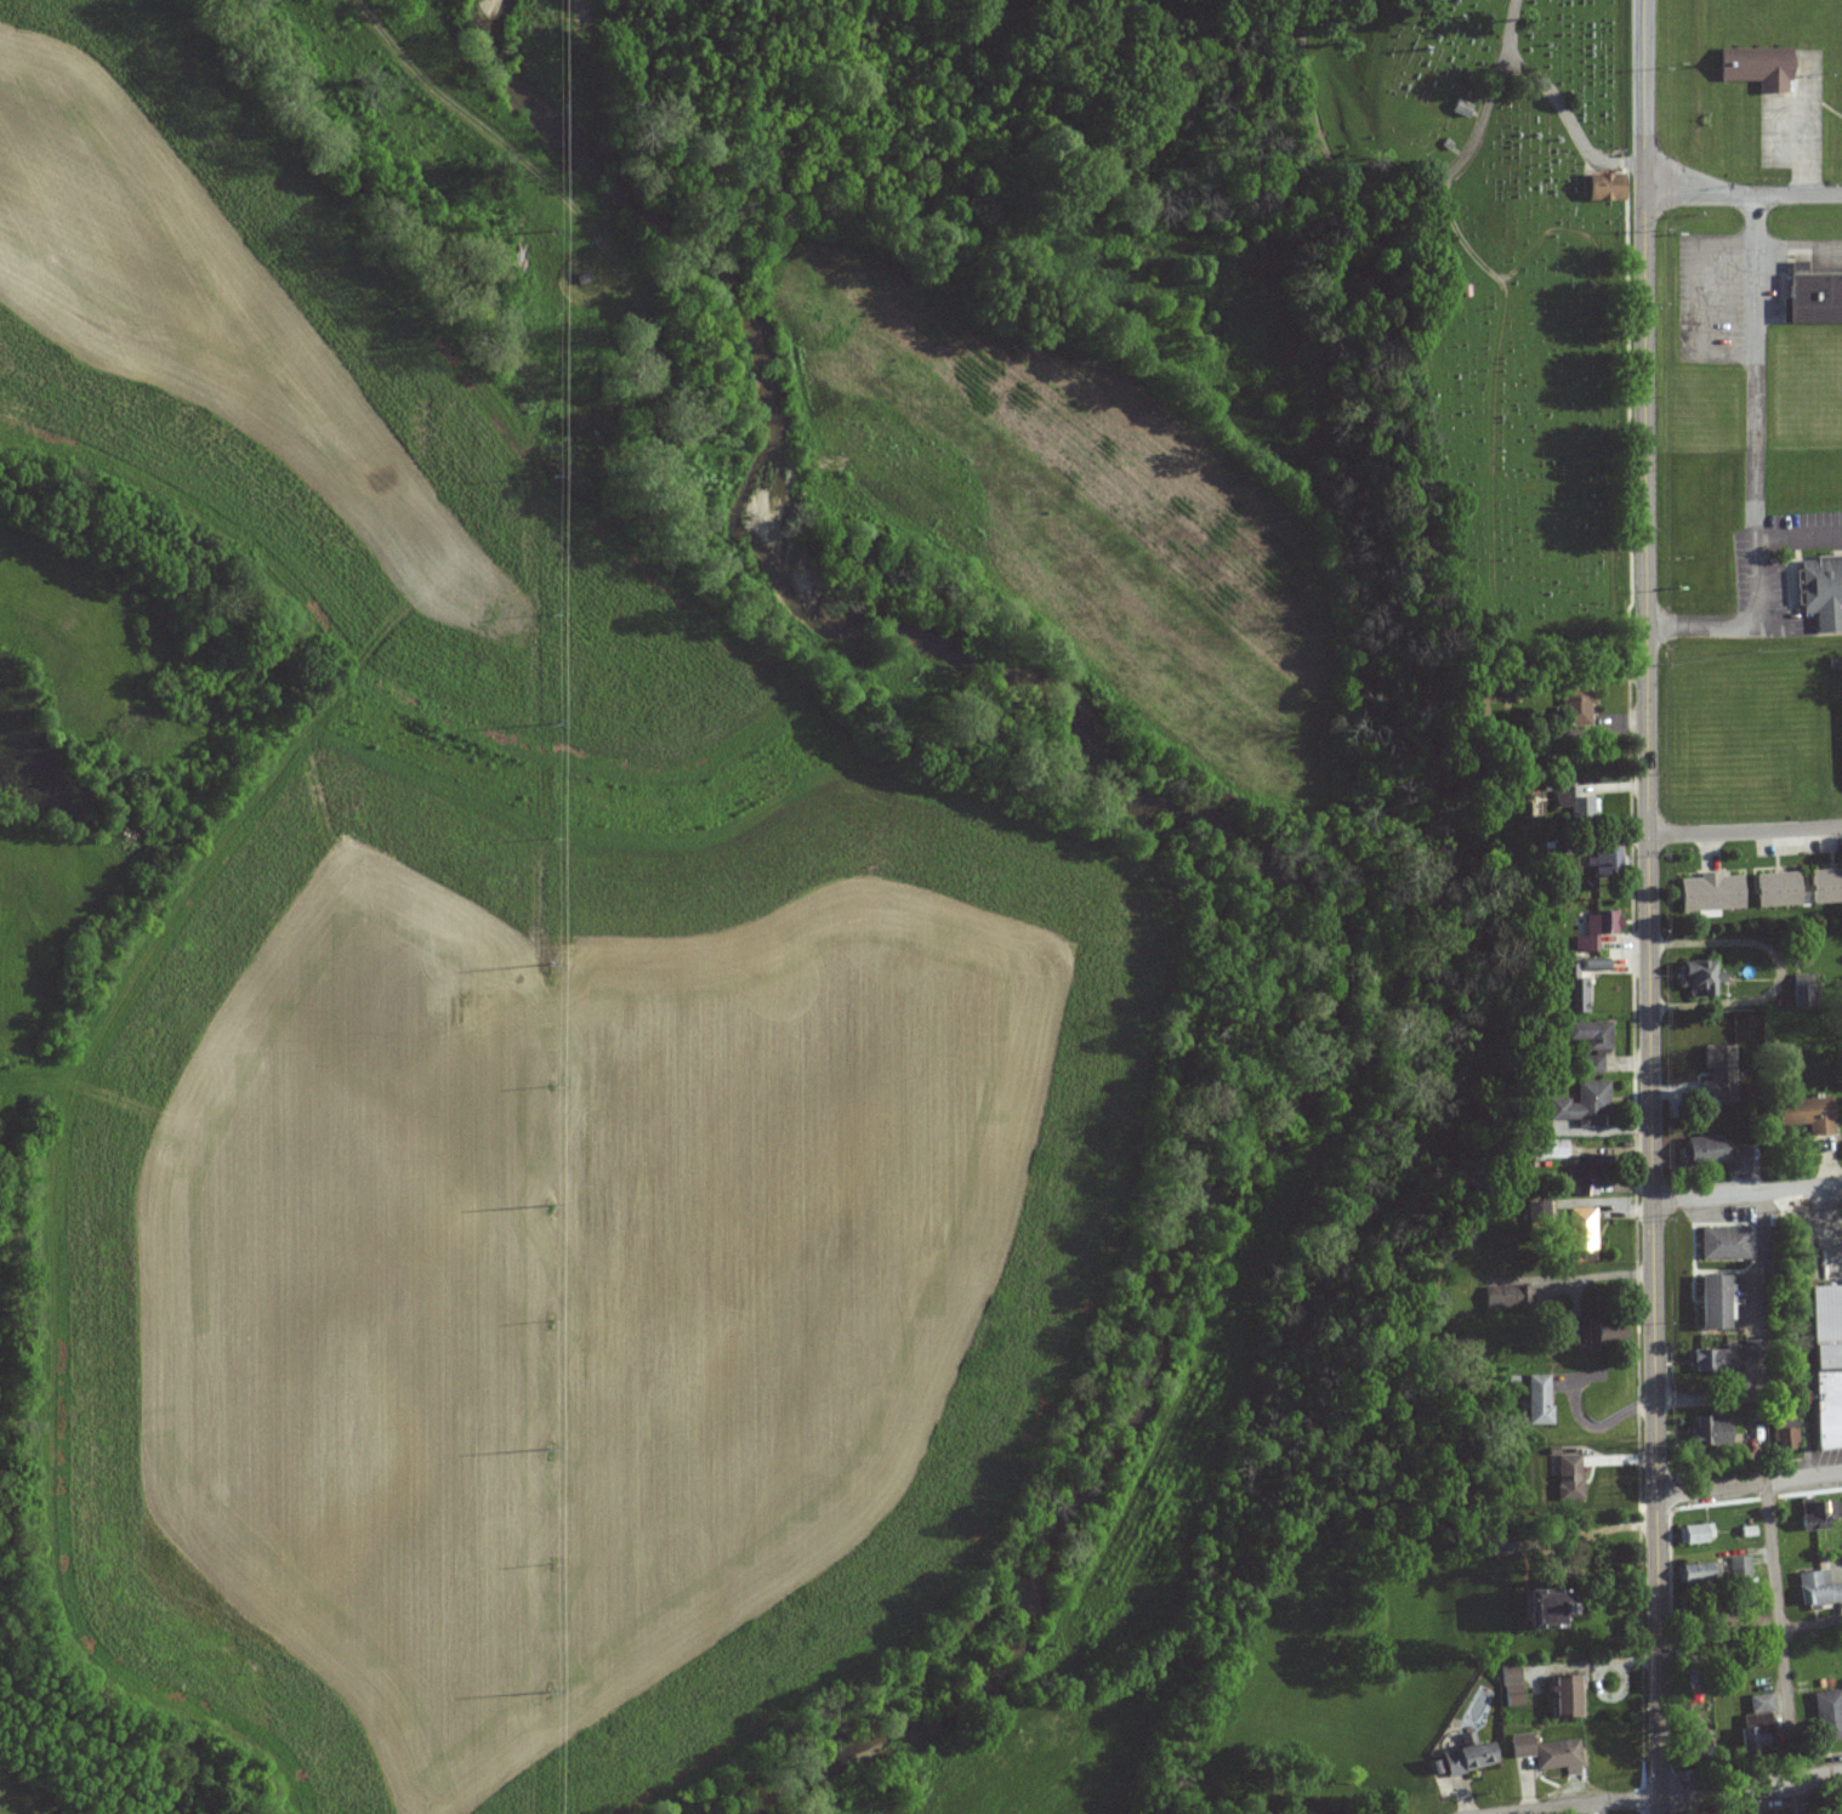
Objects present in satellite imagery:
building: (1761, 66)
road: (422, 78)
road: (1643, 96)
road: (1311, 98)
road: (1570, 120)
road: (1476, 138)
building: (1599, 188)
road: (1742, 194)
road: (1800, 245)
road: (592, 261)
park: (1511, 286)
building: (1812, 296)
road: (655, 347)
road: (1758, 462)
road: (1801, 533)
building: (1820, 593)
road: (1569, 621)
building: (1574, 707)
road: (1745, 831)
building: (1601, 857)
building: (1825, 886)
building: (1776, 889)
building: (1710, 892)
building: (1594, 929)
building: (1696, 978)
building: (1577, 982)
building: (1802, 994)
road: (1648, 1003)
building: (1587, 1044)
building: (1715, 1074)
building: (1581, 1104)
building: (1802, 1114)
building: (1550, 1149)
building: (1711, 1153)
building: (1581, 1177)
road: (1745, 1193)
building: (1579, 1235)
building: (1721, 1242)
building: (1506, 1296)
building: (1707, 1302)
building: (1599, 1334)
building: (1705, 1361)
building: (1824, 1366)
building: (1535, 1399)
building: (1712, 1432)
building: (1784, 1439)
building: (1567, 1478)
road: (1750, 1484)
building: (1815, 1514)
building: (1694, 1534)
building: (1496, 1543)
building: (1712, 1571)
building: (1817, 1588)
building: (1535, 1608)
road: (1749, 1627)
road: (1781, 1648)
building: (1508, 1683)
building: (1563, 1696)
building: (1761, 1704)
building: (1827, 1716)
building: (1689, 1733)
building: (1752, 1740)
building: (1518, 1746)
building: (1554, 1756)
building: (1461, 1757)
road: (1678, 1796)

